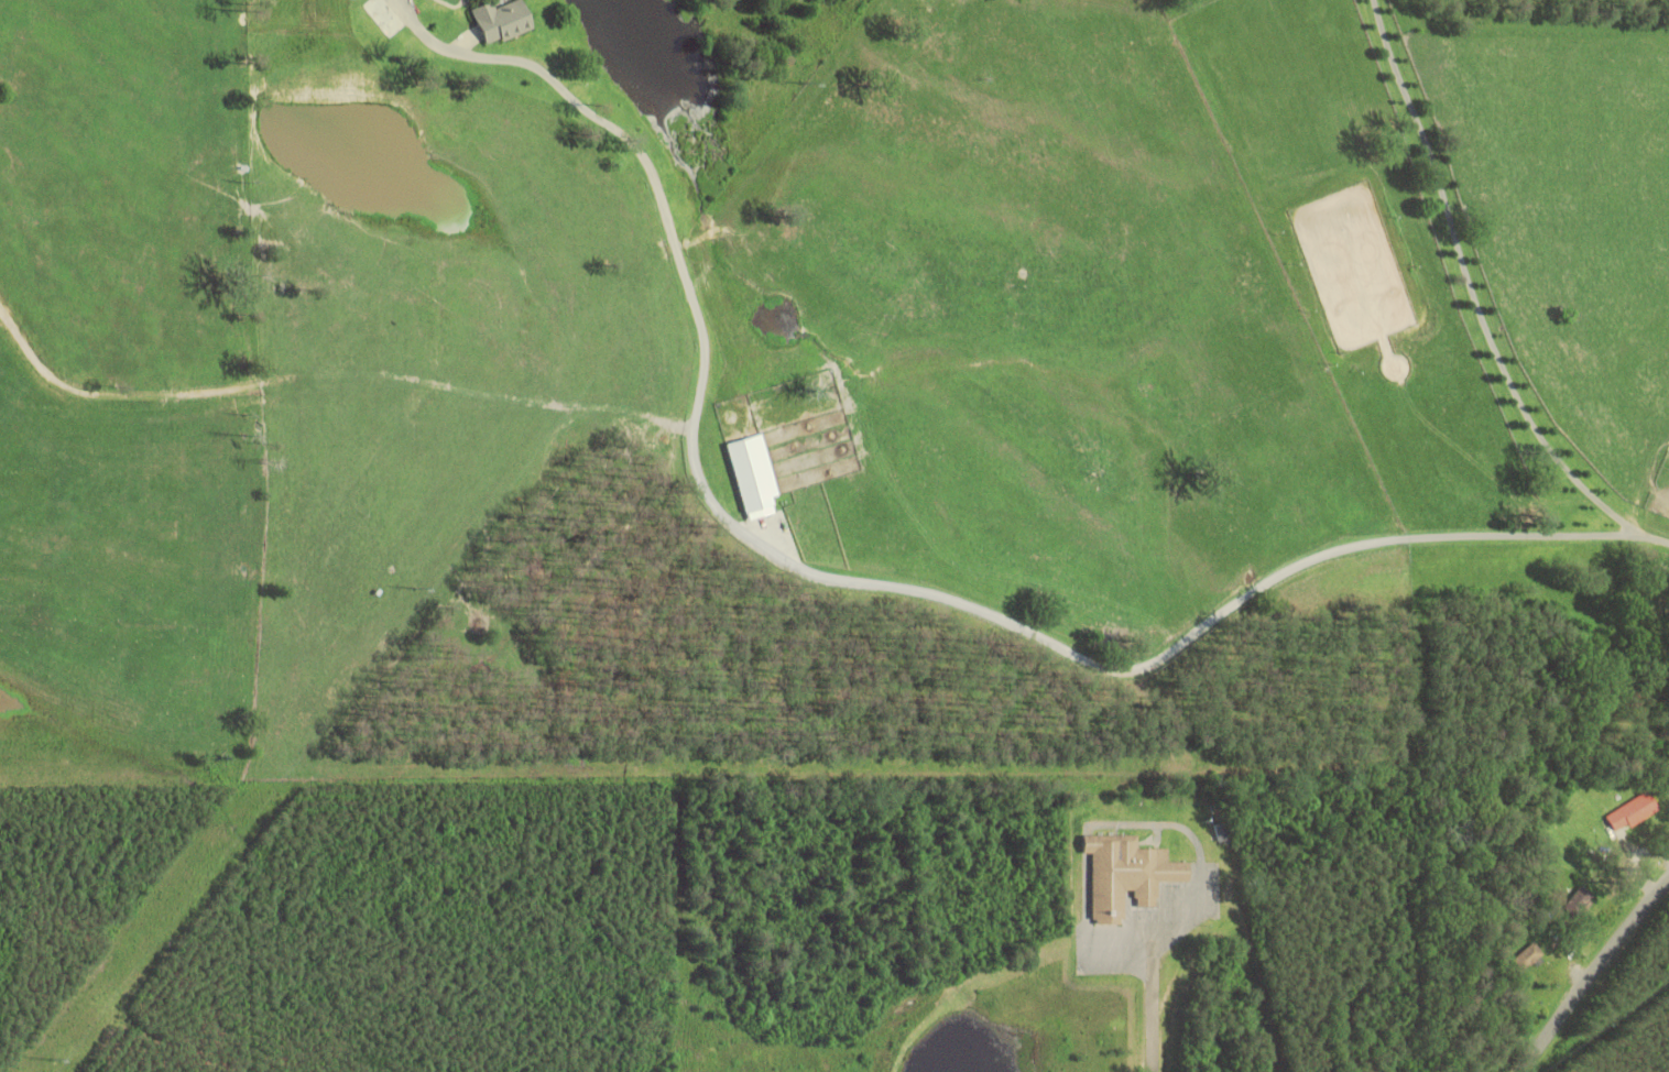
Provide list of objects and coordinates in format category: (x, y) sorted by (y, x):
building: (385, 17)
building: (501, 20)
road: (1530, 298)
road: (981, 610)
building: (1630, 816)
building: (1222, 835)
building: (1124, 877)
building: (1574, 907)
building: (1525, 959)
road: (1595, 976)
road: (1150, 1000)

